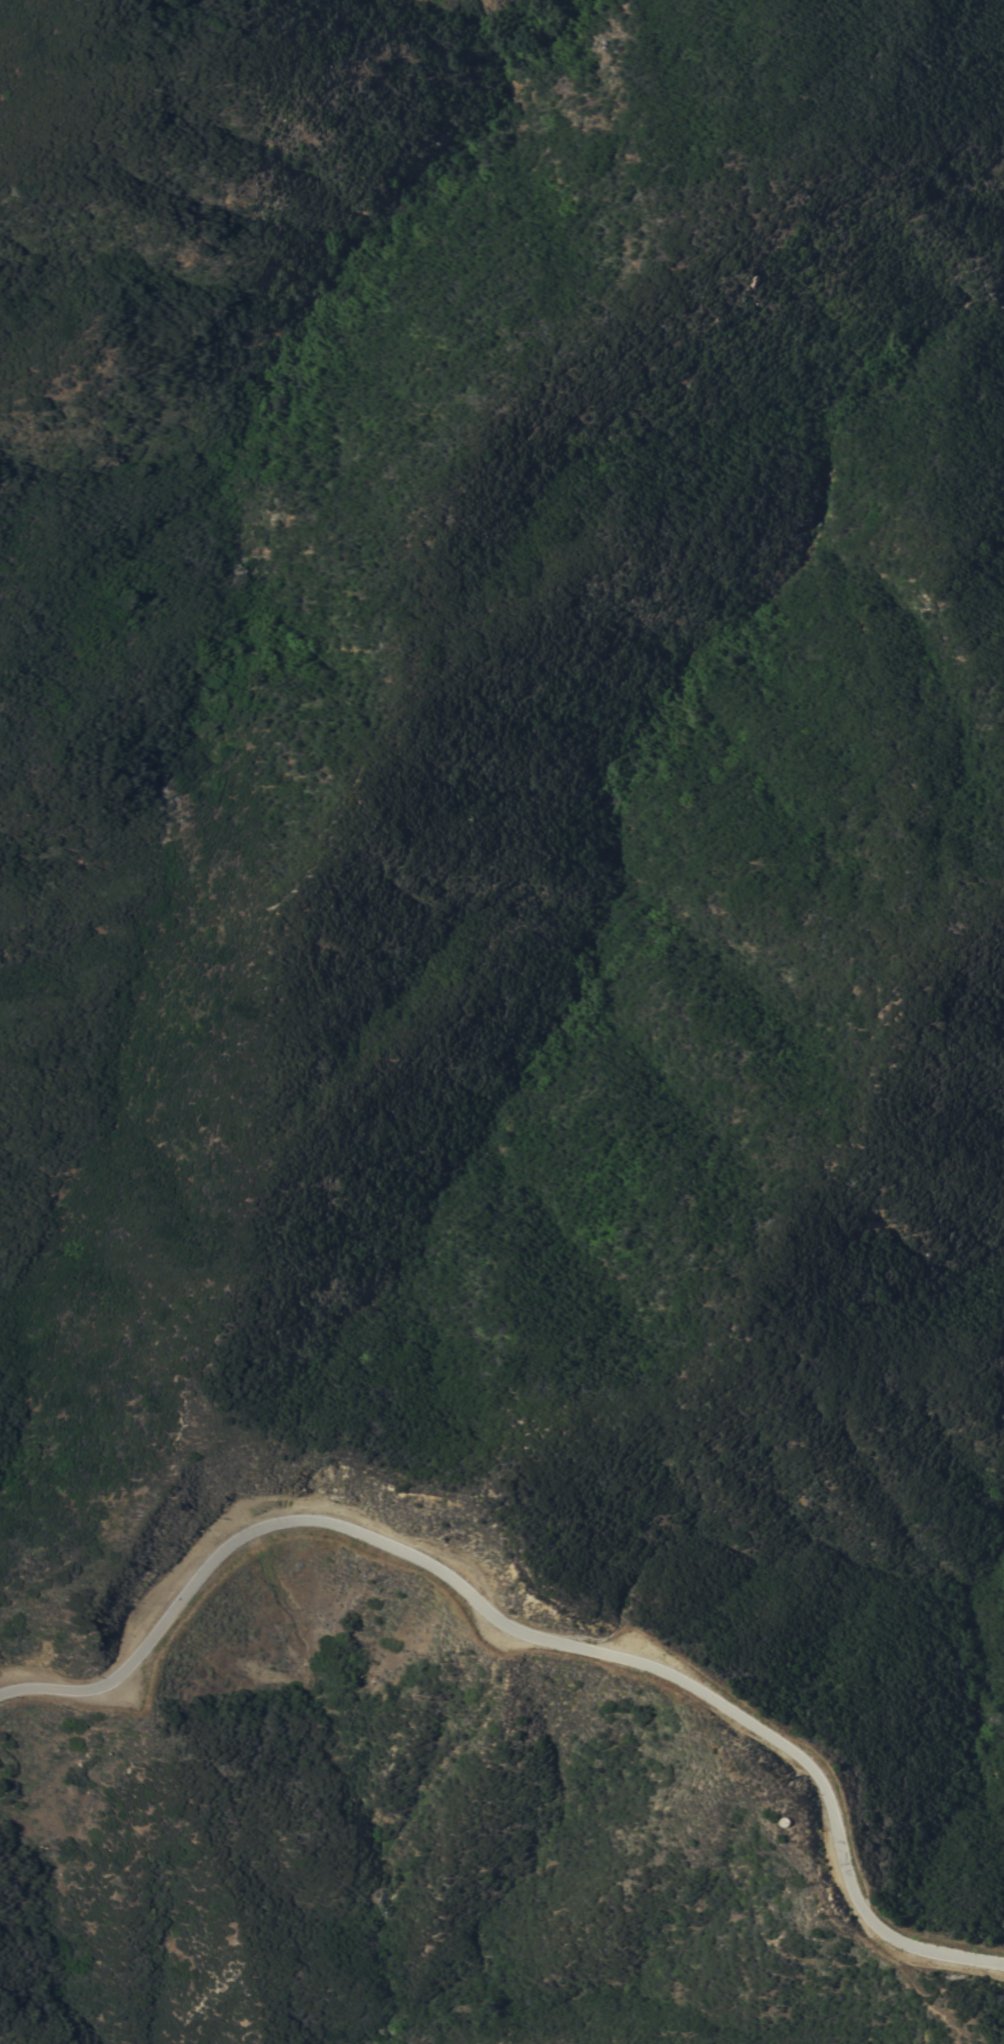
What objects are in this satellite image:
road: (527, 1631)

